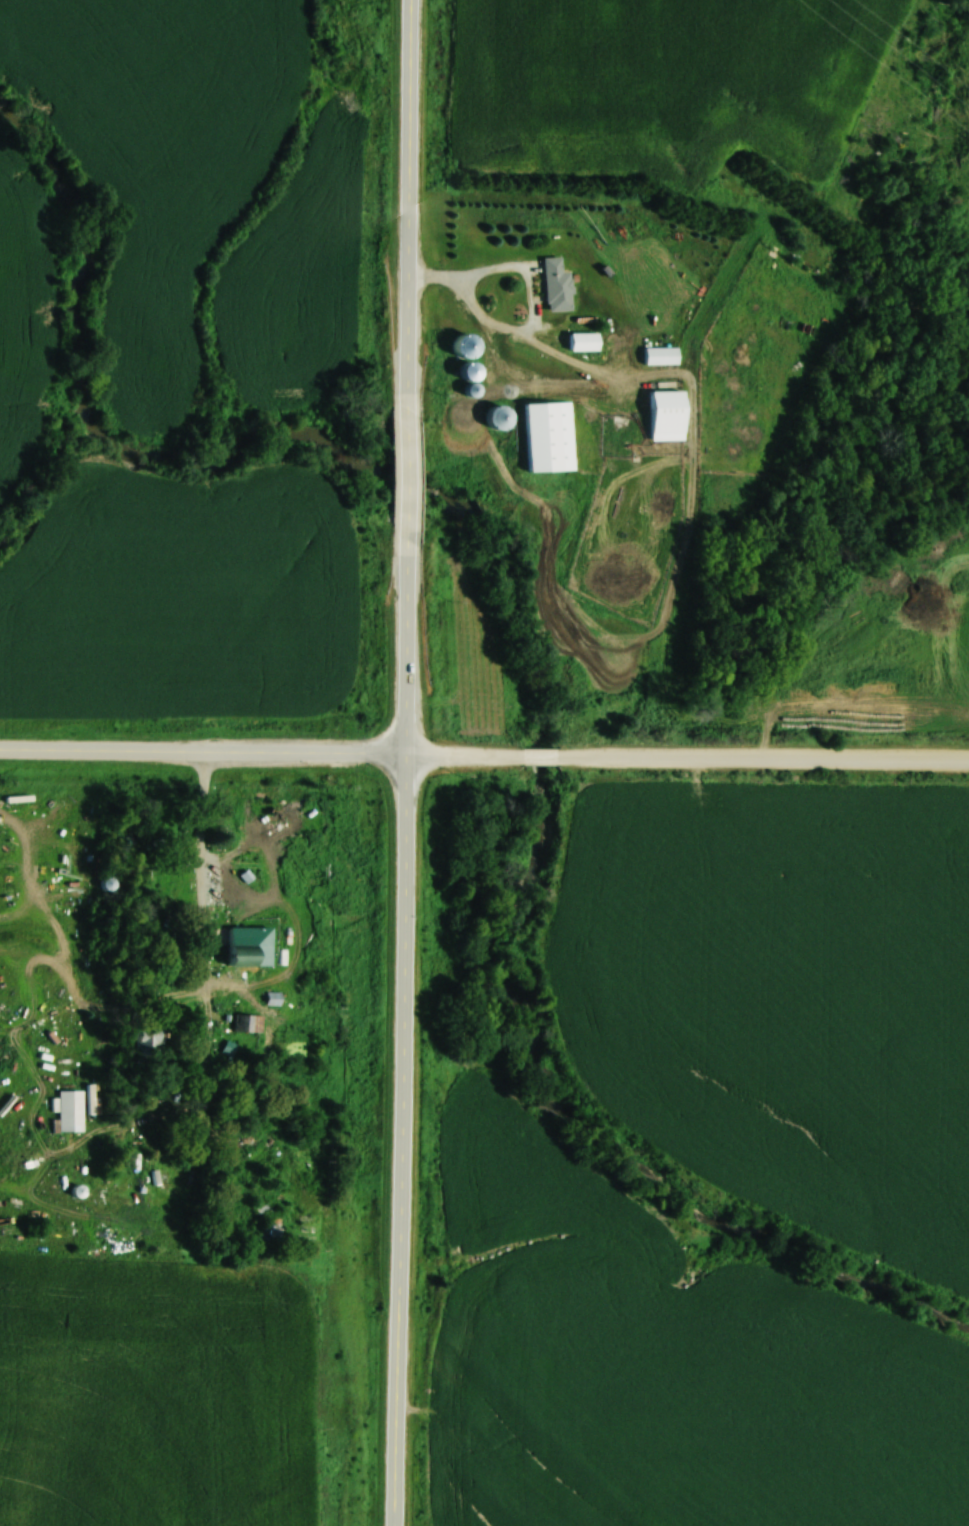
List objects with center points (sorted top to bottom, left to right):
building: (551, 285)
building: (576, 341)
building: (656, 355)
building: (459, 371)
road: (409, 375)
building: (660, 415)
building: (489, 417)
building: (534, 437)
road: (203, 750)
road: (464, 753)
road: (538, 758)
road: (762, 758)
building: (248, 951)
building: (275, 998)
building: (249, 1023)
building: (148, 1040)
building: (72, 1111)
road: (402, 1139)
building: (143, 1162)
building: (268, 1228)

